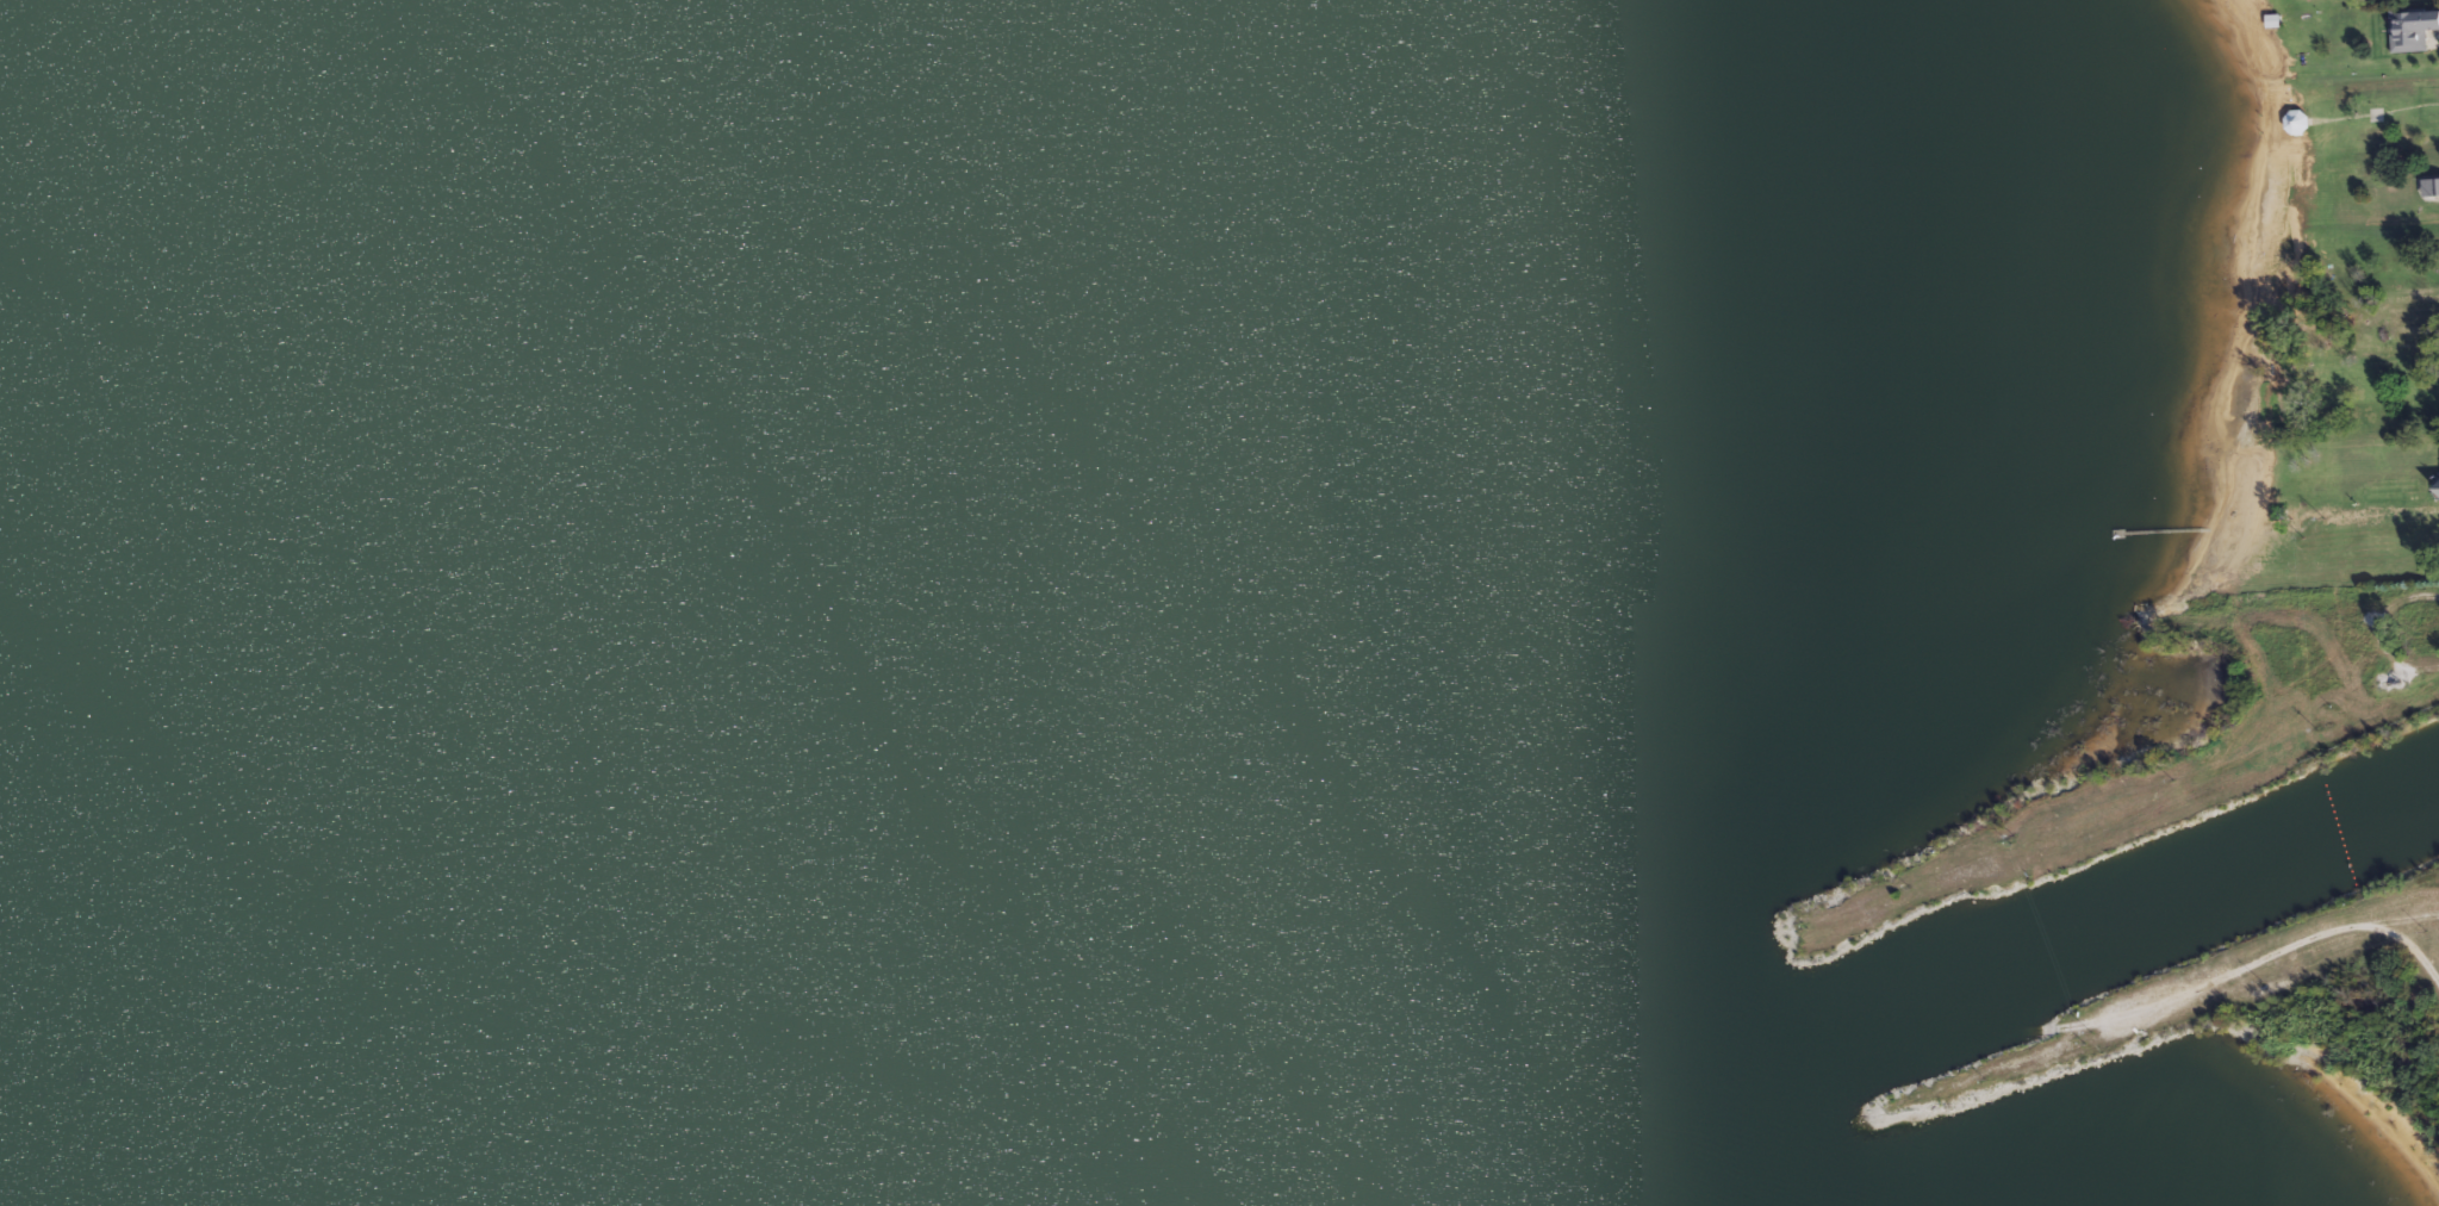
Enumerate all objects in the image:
building: (2412, 29)
building: (2297, 123)
building: (2431, 187)
road: (2378, 632)
road: (2398, 943)
road: (2276, 952)

